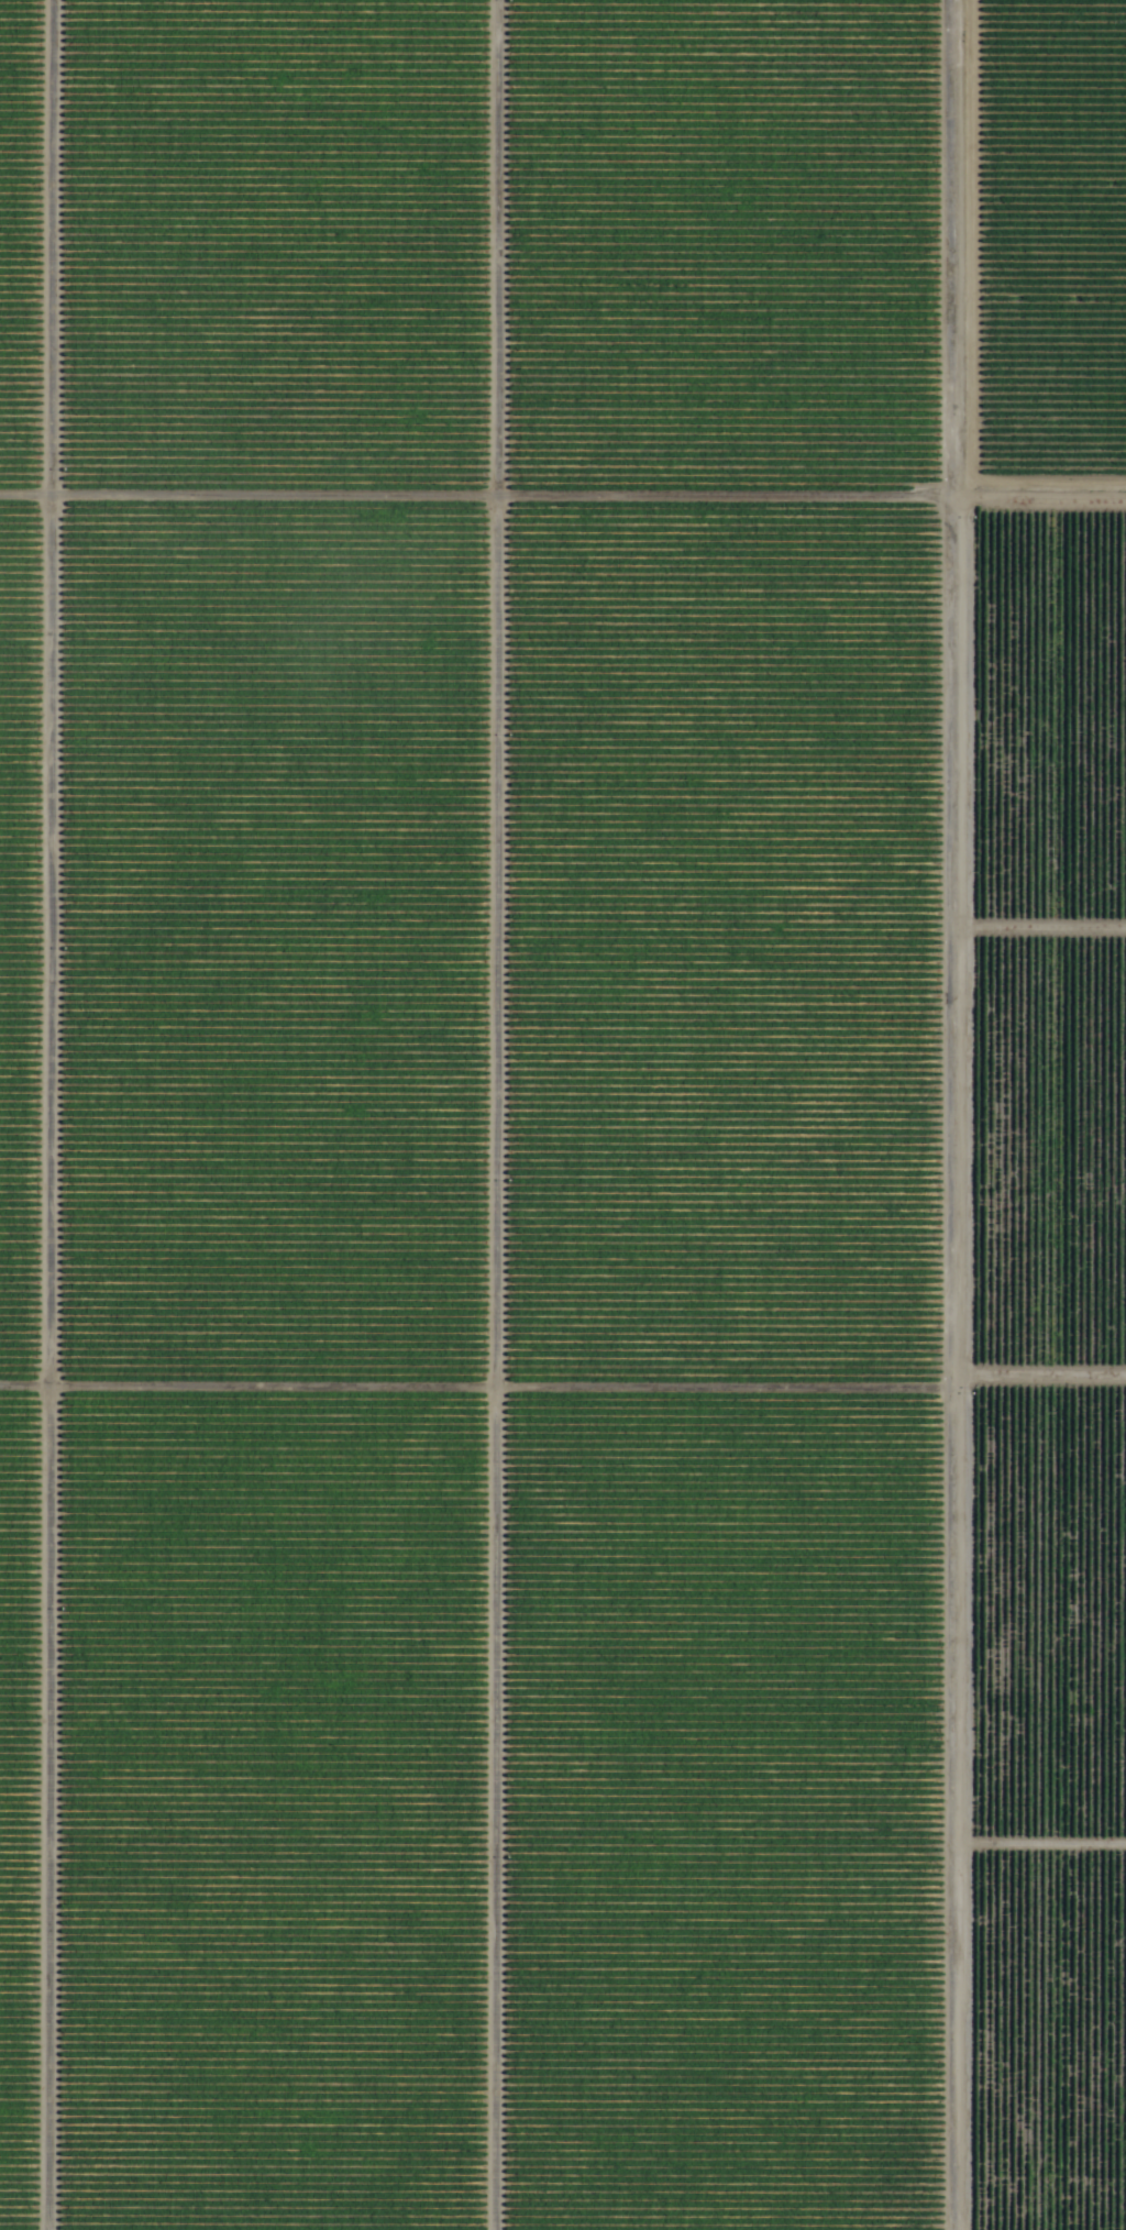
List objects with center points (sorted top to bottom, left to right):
road: (562, 518)
crop: (563, 1115)

